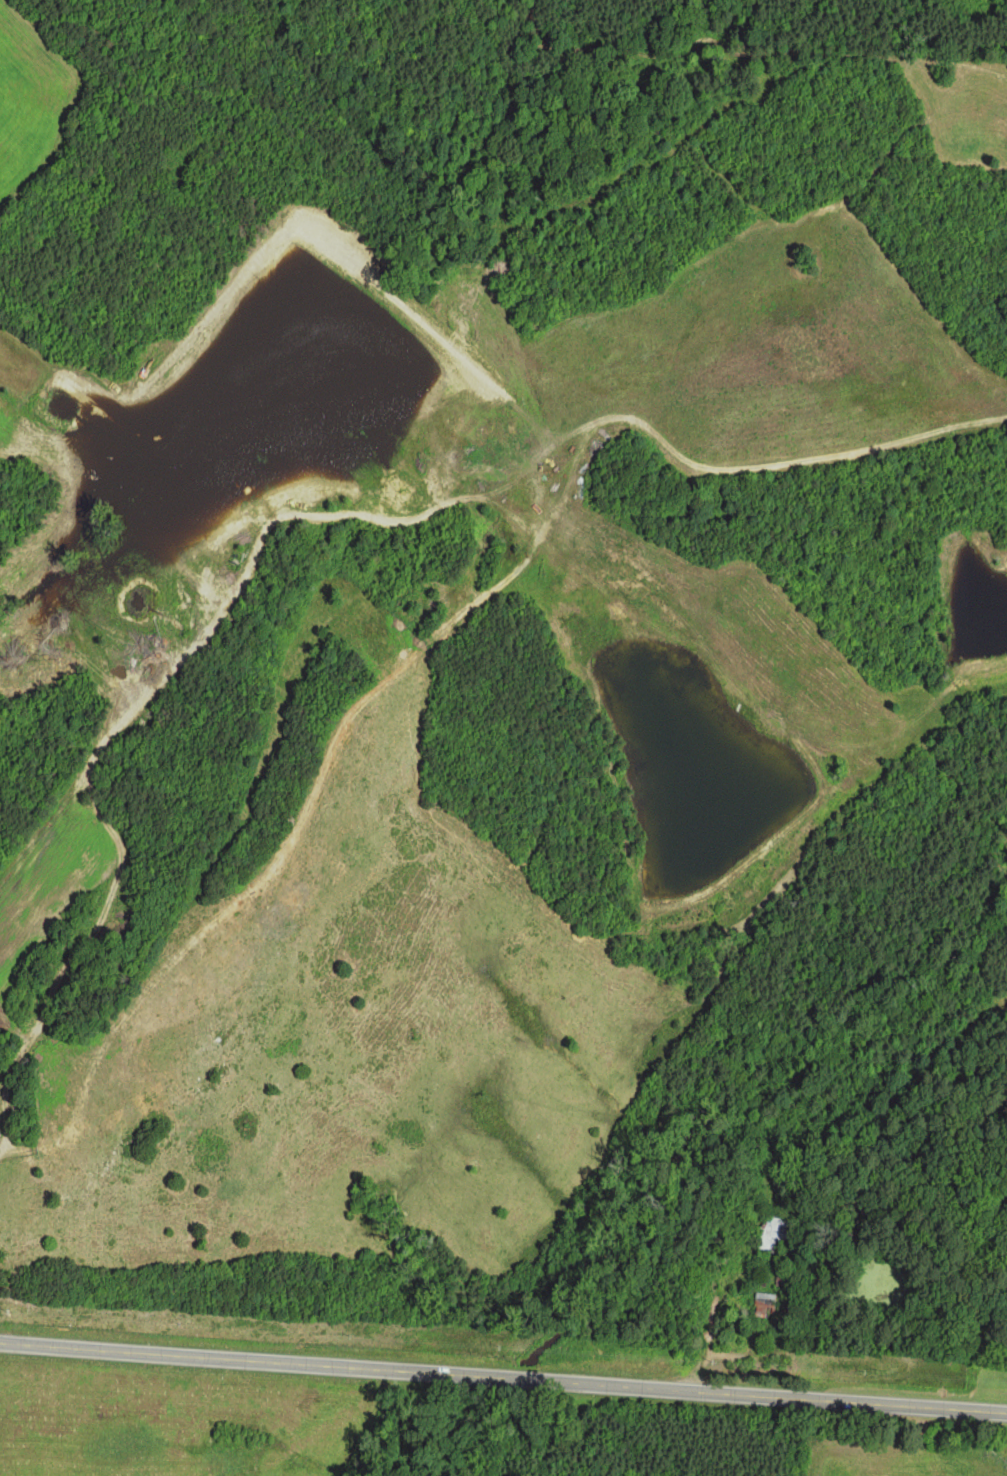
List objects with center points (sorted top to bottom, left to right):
road: (21, 1106)
road: (503, 1382)

